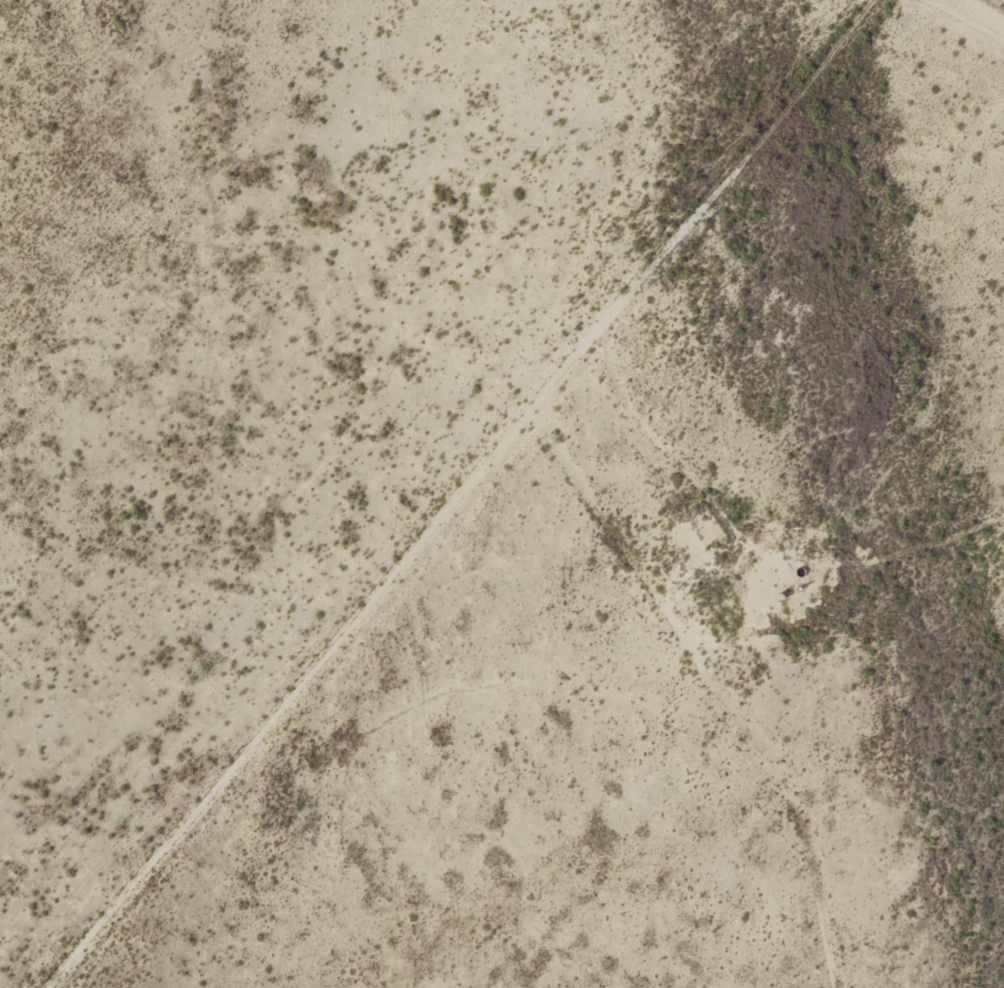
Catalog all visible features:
road: (977, 15)
road: (464, 493)

